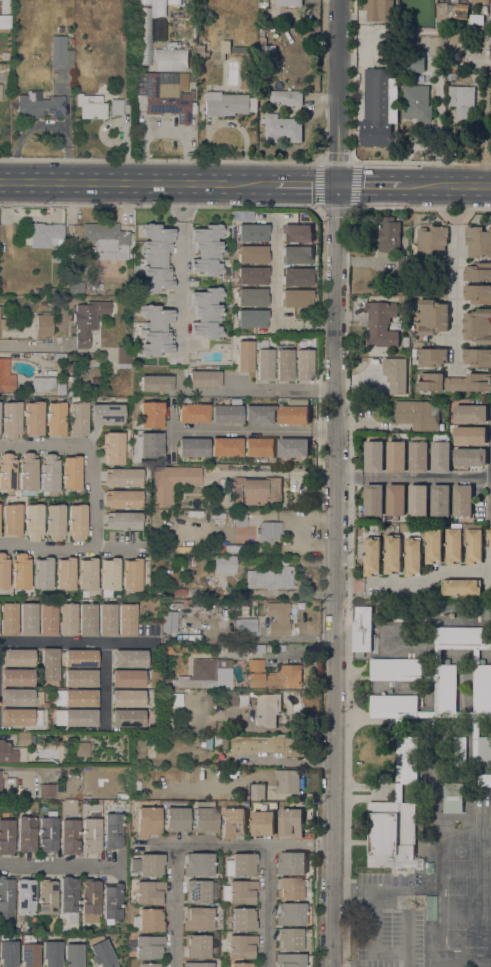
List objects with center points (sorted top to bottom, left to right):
building: (145, 2)
building: (160, 2)
building: (174, 2)
building: (186, 2)
building: (289, 2)
building: (264, 4)
building: (378, 10)
building: (5, 21)
building: (59, 29)
building: (68, 29)
building: (455, 36)
building: (124, 37)
building: (264, 39)
building: (144, 49)
building: (238, 49)
building: (173, 50)
building: (60, 52)
building: (201, 52)
building: (18, 57)
building: (412, 62)
building: (451, 64)
building: (2, 67)
building: (191, 69)
building: (1, 92)
building: (166, 96)
building: (287, 97)
building: (393, 100)
building: (460, 100)
building: (416, 102)
building: (228, 103)
building: (39, 105)
building: (91, 106)
building: (116, 107)
building: (377, 108)
building: (282, 128)
road: (352, 149)
street lamp: (0, 158)
street lamp: (90, 159)
road: (161, 159)
street lamp: (176, 159)
road: (351, 159)
street lamp: (267, 161)
road: (139, 182)
road: (307, 184)
traffic signals: (336, 185)
road: (366, 185)
road: (443, 185)
road: (455, 221)
building: (252, 233)
building: (296, 233)
building: (389, 234)
building: (43, 235)
building: (106, 236)
building: (433, 241)
building: (478, 241)
building: (207, 250)
building: (252, 254)
building: (297, 255)
building: (156, 258)
building: (478, 271)
road: (182, 272)
building: (252, 275)
building: (296, 276)
building: (76, 287)
building: (61, 291)
building: (477, 293)
road: (456, 295)
building: (252, 297)
building: (296, 298)
road: (275, 300)
building: (207, 313)
building: (431, 316)
building: (252, 318)
building: (87, 320)
building: (2, 323)
building: (381, 323)
building: (43, 325)
building: (478, 326)
building: (156, 331)
building: (406, 341)
road: (34, 345)
building: (245, 356)
building: (123, 357)
building: (431, 357)
building: (477, 357)
building: (196, 362)
building: (264, 364)
building: (284, 364)
building: (86, 365)
building: (304, 365)
building: (394, 374)
building: (6, 377)
building: (71, 379)
building: (204, 379)
building: (94, 380)
building: (454, 382)
building: (156, 383)
building: (43, 384)
building: (61, 387)
road: (250, 388)
building: (69, 392)
building: (192, 413)
building: (470, 413)
building: (107, 414)
building: (151, 414)
building: (227, 414)
building: (260, 415)
building: (293, 415)
building: (417, 415)
building: (77, 417)
building: (34, 418)
building: (56, 418)
building: (11, 420)
road: (170, 426)
road: (252, 431)
building: (469, 435)
building: (149, 444)
building: (259, 446)
building: (193, 447)
building: (226, 447)
building: (293, 447)
building: (113, 448)
road: (92, 452)
building: (440, 453)
building: (418, 454)
building: (373, 457)
building: (396, 457)
building: (469, 457)
building: (71, 472)
building: (7, 473)
building: (28, 474)
building: (49, 474)
building: (122, 477)
road: (412, 478)
building: (172, 482)
road: (334, 483)
building: (256, 490)
building: (122, 498)
building: (373, 500)
building: (395, 500)
building: (418, 500)
building: (439, 500)
building: (462, 501)
building: (12, 519)
building: (240, 519)
building: (123, 520)
building: (33, 521)
building: (76, 521)
building: (55, 522)
building: (268, 531)
building: (488, 538)
building: (472, 543)
building: (431, 544)
building: (453, 545)
road: (70, 548)
building: (234, 548)
building: (391, 555)
building: (371, 556)
building: (412, 557)
building: (224, 564)
building: (20, 571)
building: (3, 572)
building: (43, 573)
building: (65, 573)
building: (87, 574)
building: (132, 574)
building: (109, 576)
building: (269, 578)
road: (419, 584)
building: (460, 590)
building: (187, 602)
building: (194, 603)
building: (8, 618)
building: (278, 618)
building: (28, 619)
building: (48, 619)
building: (67, 619)
building: (127, 619)
building: (87, 620)
building: (107, 620)
building: (169, 621)
building: (245, 625)
building: (361, 630)
building: (165, 638)
road: (77, 642)
building: (280, 648)
building: (254, 649)
building: (17, 657)
building: (80, 658)
building: (129, 658)
building: (49, 664)
building: (205, 675)
building: (273, 675)
building: (17, 677)
building: (81, 678)
building: (128, 678)
road: (103, 685)
building: (309, 685)
building: (17, 697)
building: (75, 697)
building: (127, 698)
building: (234, 698)
building: (265, 707)
building: (430, 714)
building: (21, 717)
building: (80, 717)
building: (127, 718)
road: (4, 736)
building: (22, 739)
building: (267, 745)
building: (82, 749)
building: (459, 752)
building: (7, 753)
building: (484, 780)
building: (287, 781)
building: (0, 782)
building: (47, 790)
building: (257, 791)
building: (453, 798)
building: (205, 816)
building: (176, 819)
building: (147, 821)
building: (232, 822)
building: (262, 823)
building: (290, 823)
building: (112, 830)
building: (47, 833)
building: (26, 834)
building: (90, 835)
building: (392, 835)
building: (6, 836)
building: (69, 837)
road: (237, 843)
building: (291, 863)
road: (59, 864)
building: (198, 864)
building: (147, 865)
building: (243, 865)
building: (289, 888)
building: (199, 891)
building: (149, 892)
building: (242, 892)
building: (6, 893)
building: (47, 896)
building: (69, 896)
building: (26, 897)
building: (89, 900)
building: (111, 901)
road: (173, 905)
road: (267, 905)
building: (290, 914)
building: (197, 919)
building: (241, 919)
building: (148, 920)
building: (289, 939)
building: (197, 946)
building: (241, 946)
building: (149, 947)
building: (29, 951)
building: (101, 952)
building: (51, 953)
building: (8, 954)
building: (73, 955)
building: (289, 960)
building: (197, 964)
building: (243, 964)
building: (150, 965)

